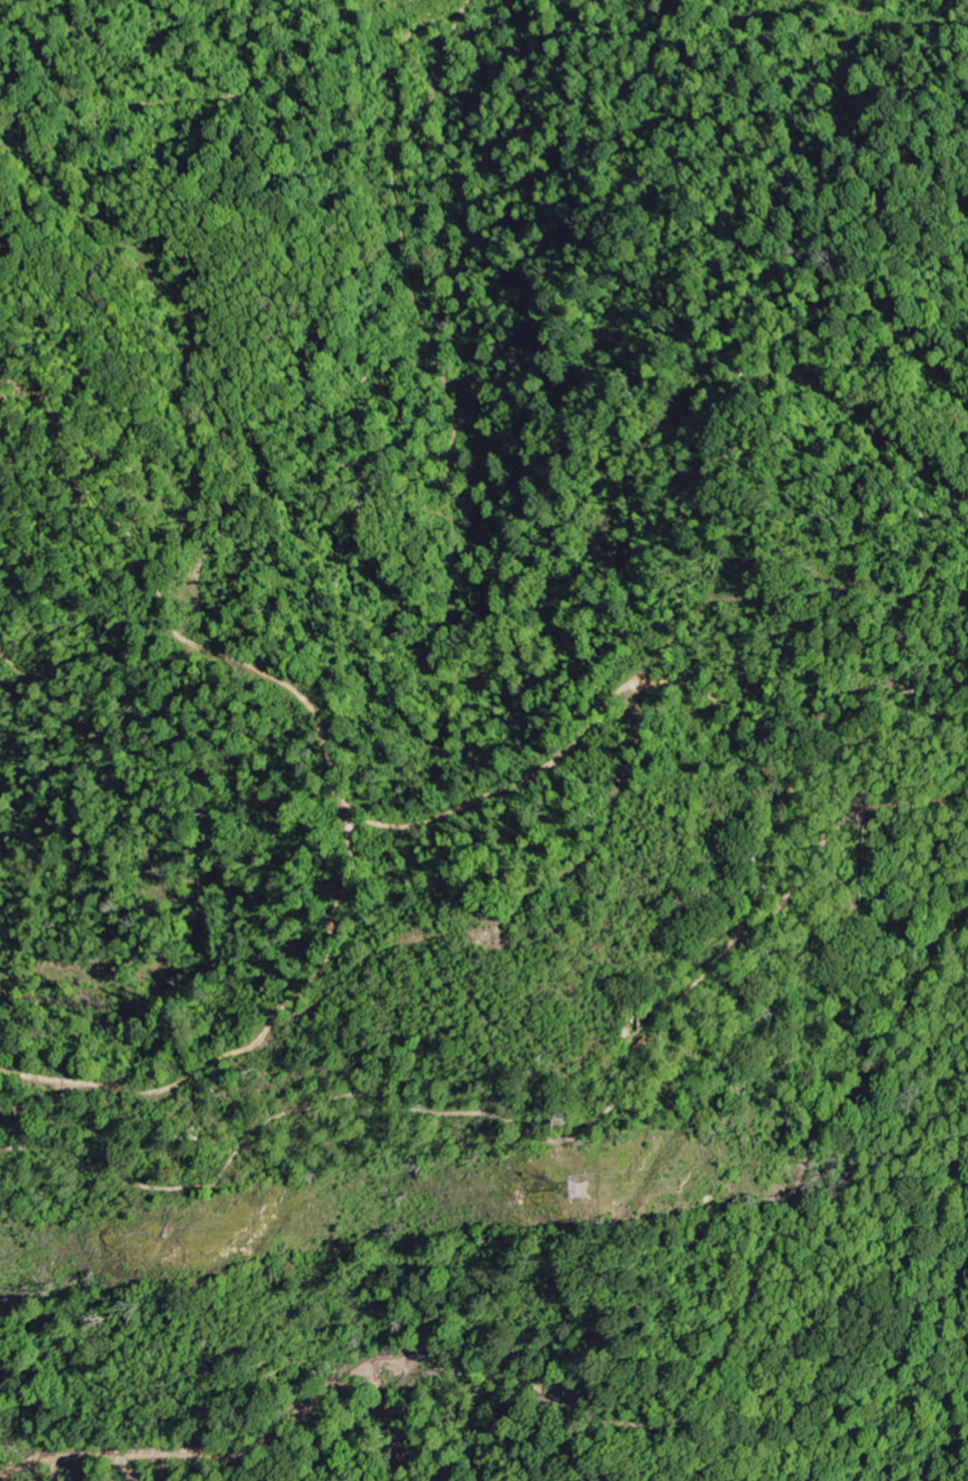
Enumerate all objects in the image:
power tower: (580, 1211)

